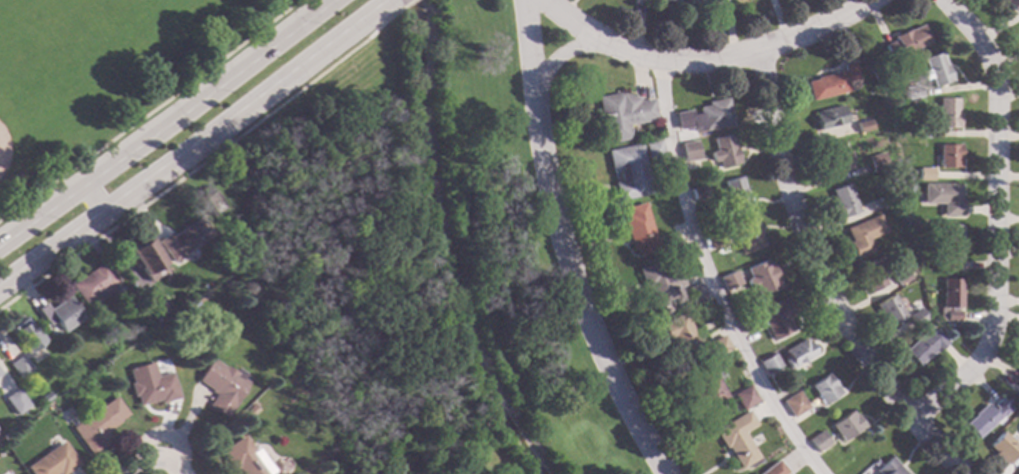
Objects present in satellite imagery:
road: (390, 1)
building: (667, 1)
building: (699, 1)
building: (1012, 5)
road: (393, 13)
building: (905, 43)
road: (555, 56)
road: (702, 61)
building: (936, 70)
park: (103, 76)
building: (831, 83)
building: (911, 92)
road: (148, 111)
building: (947, 113)
building: (621, 115)
building: (705, 117)
building: (828, 118)
road: (167, 120)
park: (30, 125)
building: (863, 126)
building: (924, 132)
road: (195, 145)
building: (652, 151)
building: (689, 151)
building: (723, 151)
building: (948, 156)
building: (835, 160)
building: (876, 162)
road: (190, 169)
building: (628, 172)
building: (924, 174)
building: (909, 188)
building: (697, 193)
building: (736, 194)
building: (943, 197)
road: (89, 199)
building: (887, 200)
building: (843, 201)
building: (210, 202)
road: (7, 212)
road: (997, 218)
building: (637, 230)
building: (863, 234)
building: (746, 235)
building: (714, 238)
building: (182, 239)
building: (668, 244)
road: (561, 246)
building: (950, 247)
building: (144, 256)
park: (421, 257)
building: (872, 275)
building: (901, 277)
building: (761, 278)
road: (706, 279)
building: (660, 281)
building: (728, 281)
building: (91, 283)
road: (823, 284)
building: (122, 294)
building: (693, 294)
building: (950, 300)
building: (154, 307)
building: (889, 310)
building: (59, 314)
building: (917, 317)
building: (775, 318)
building: (746, 323)
building: (25, 334)
building: (679, 335)
building: (924, 346)
building: (716, 347)
building: (798, 352)
building: (768, 364)
building: (20, 367)
building: (1016, 378)
building: (150, 385)
building: (220, 386)
building: (705, 389)
building: (824, 389)
building: (44, 396)
building: (743, 397)
building: (15, 402)
building: (793, 404)
building: (985, 417)
building: (97, 426)
building: (846, 426)
building: (737, 439)
building: (818, 441)
building: (1003, 447)
building: (244, 458)
building: (52, 461)
road: (143, 461)
road: (169, 461)
building: (888, 468)
building: (773, 469)
building: (1018, 473)

